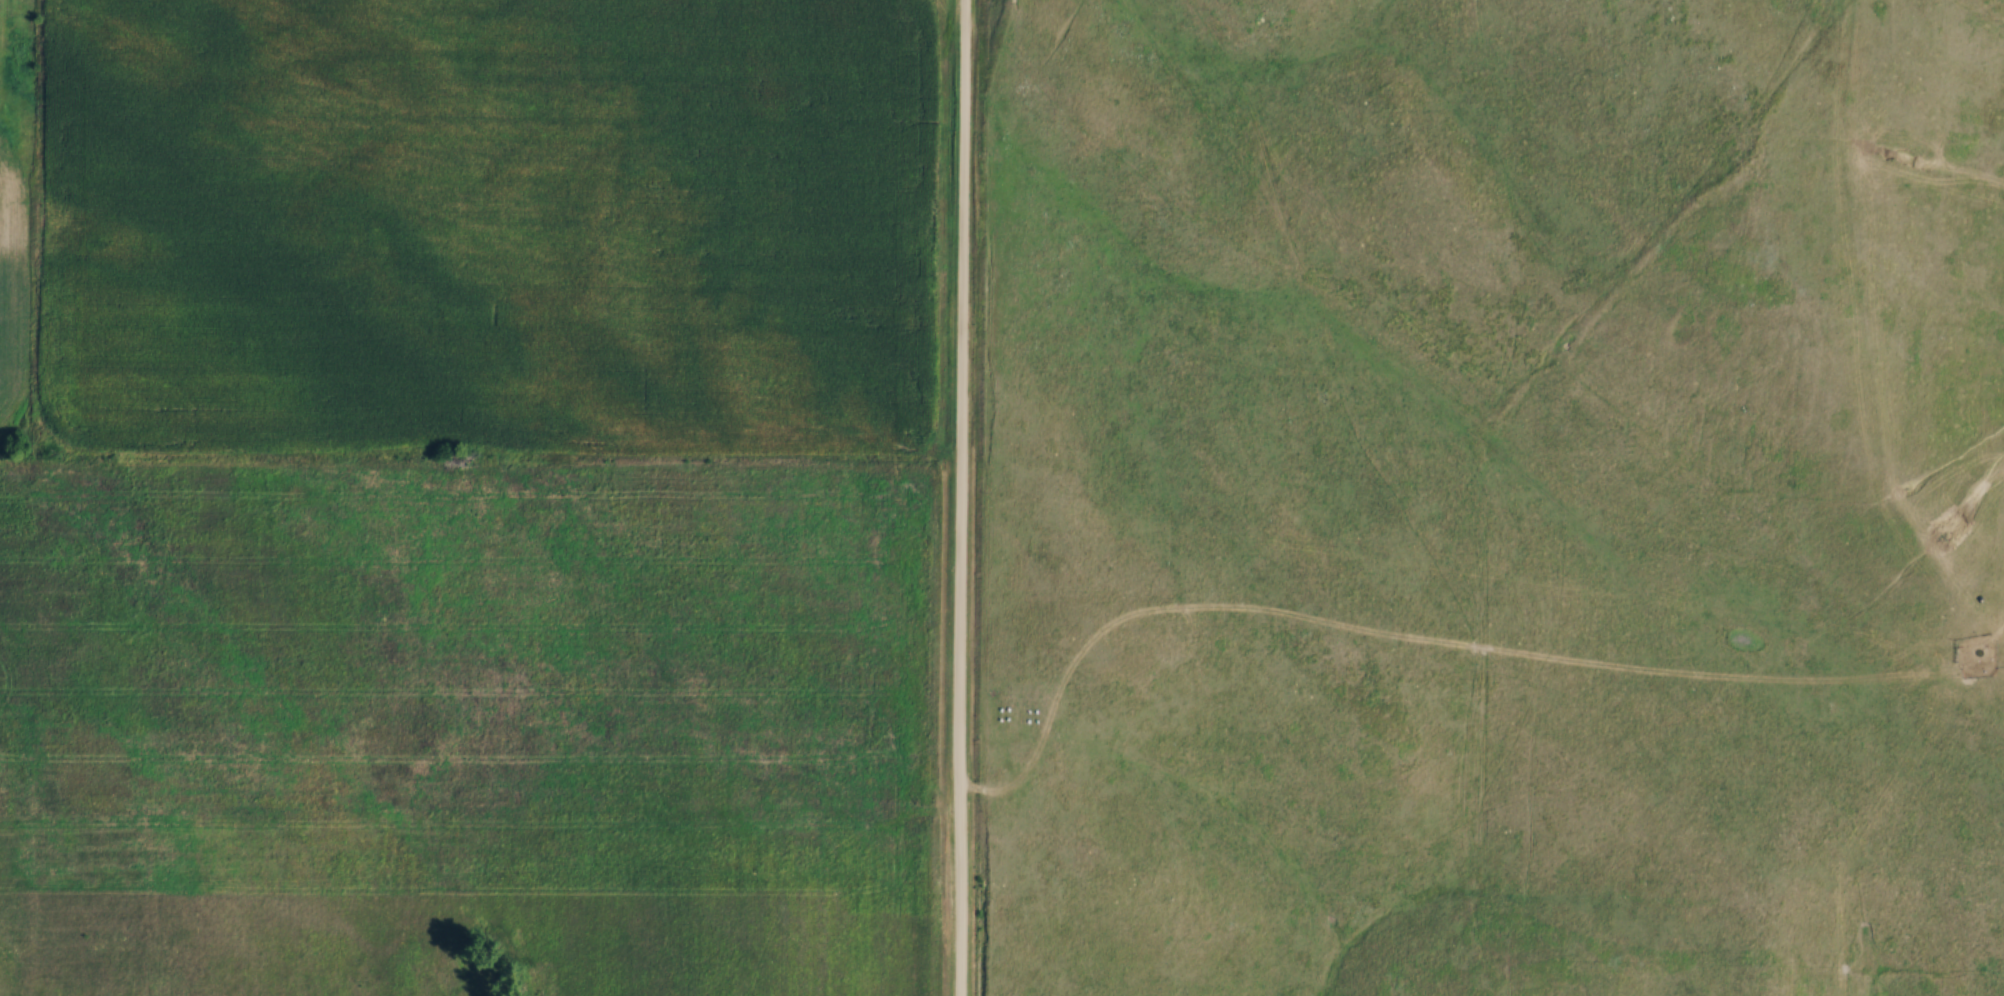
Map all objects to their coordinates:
road: (959, 497)
building: (121, 802)

